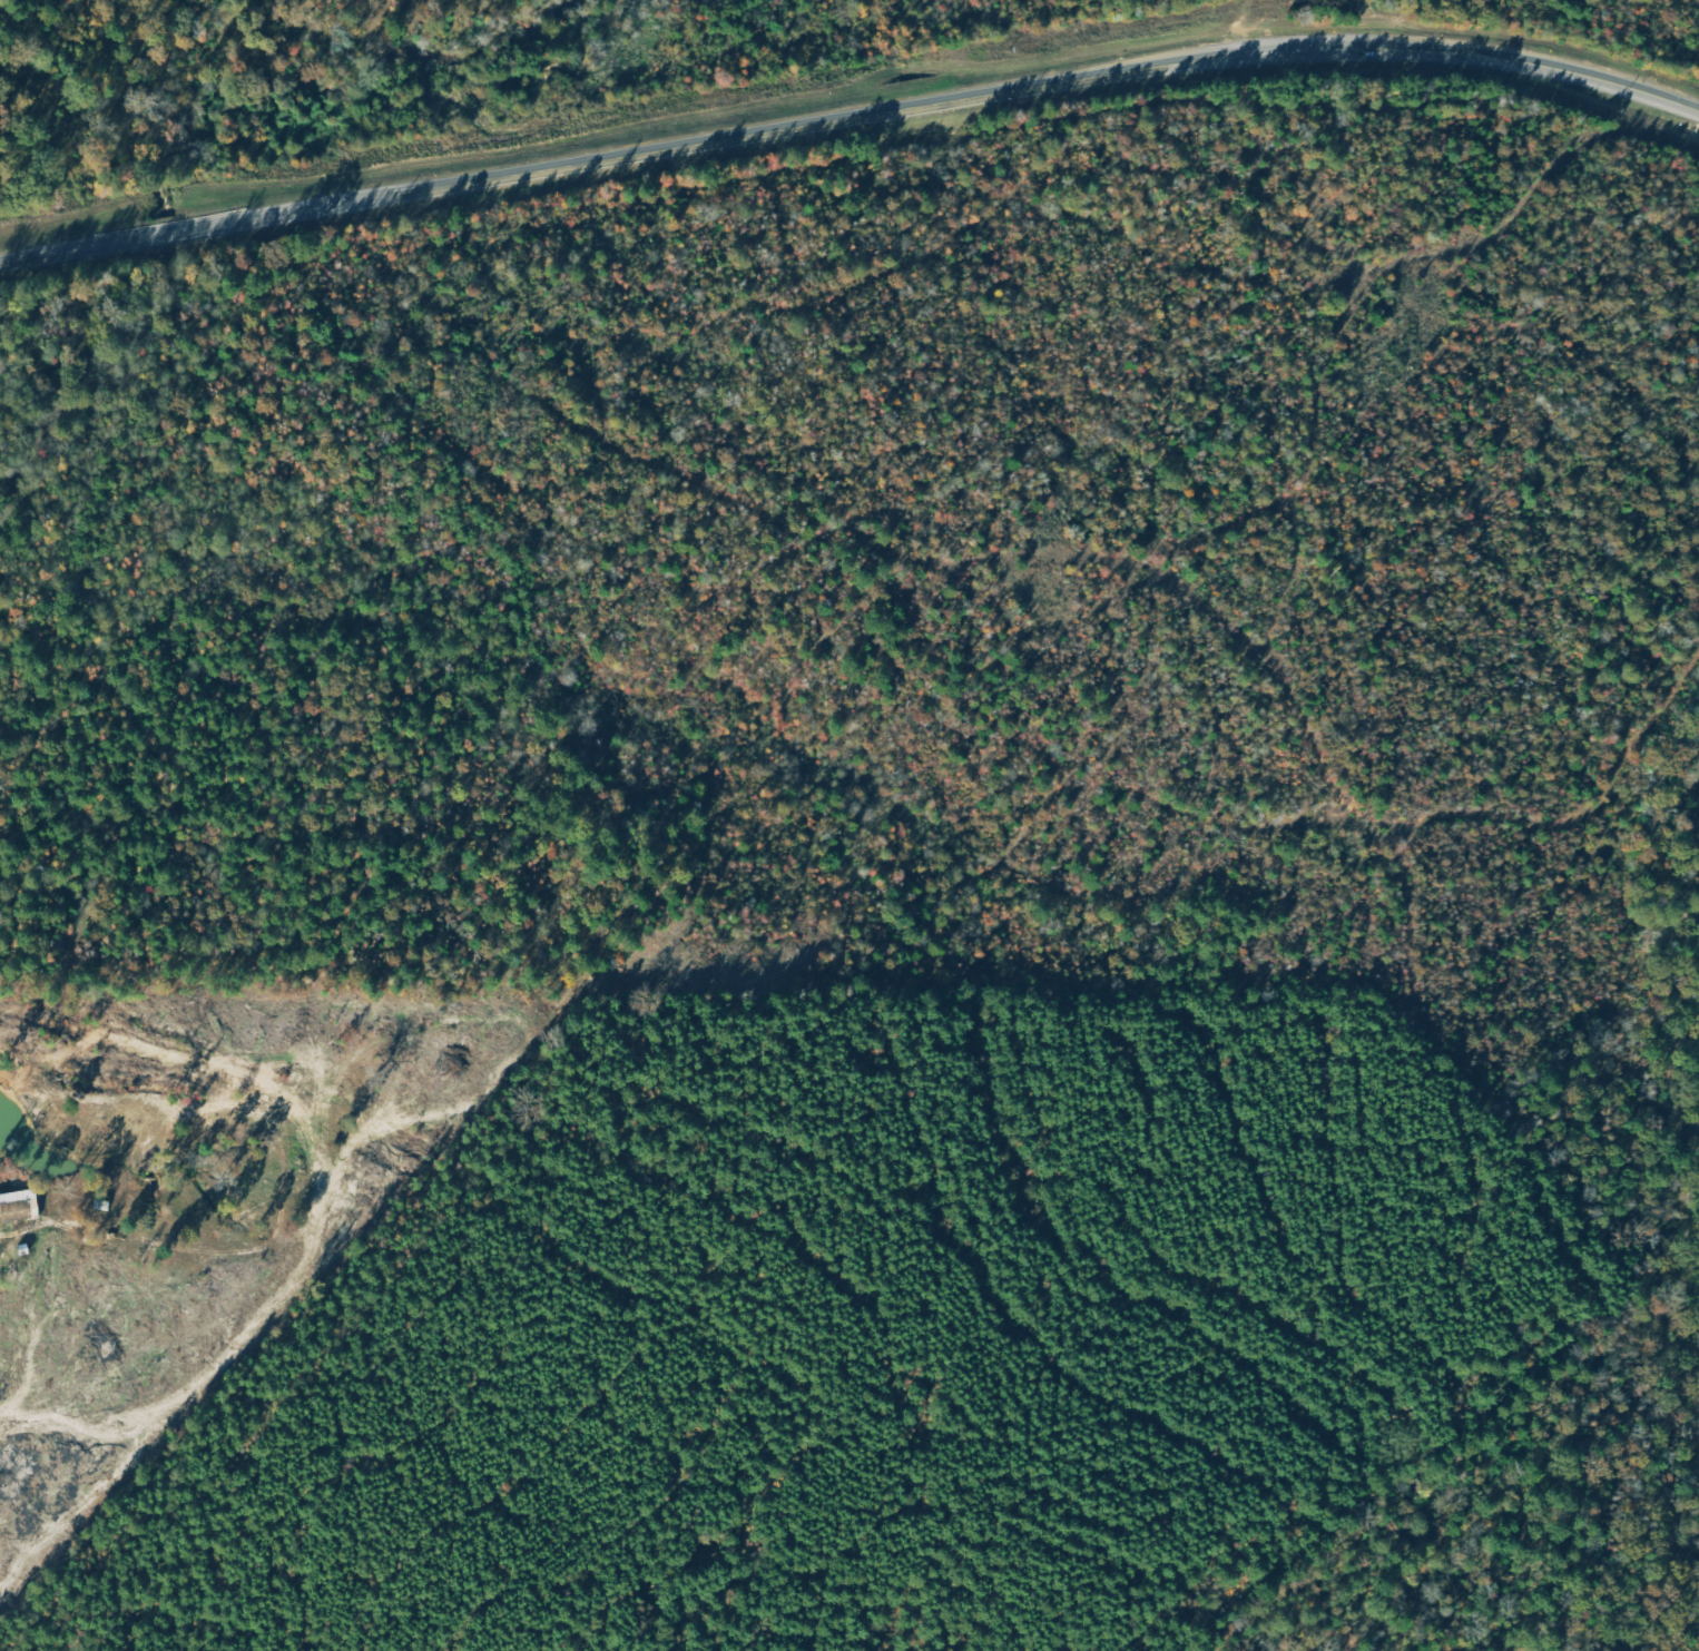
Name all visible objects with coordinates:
road: (849, 118)
building: (19, 1209)

